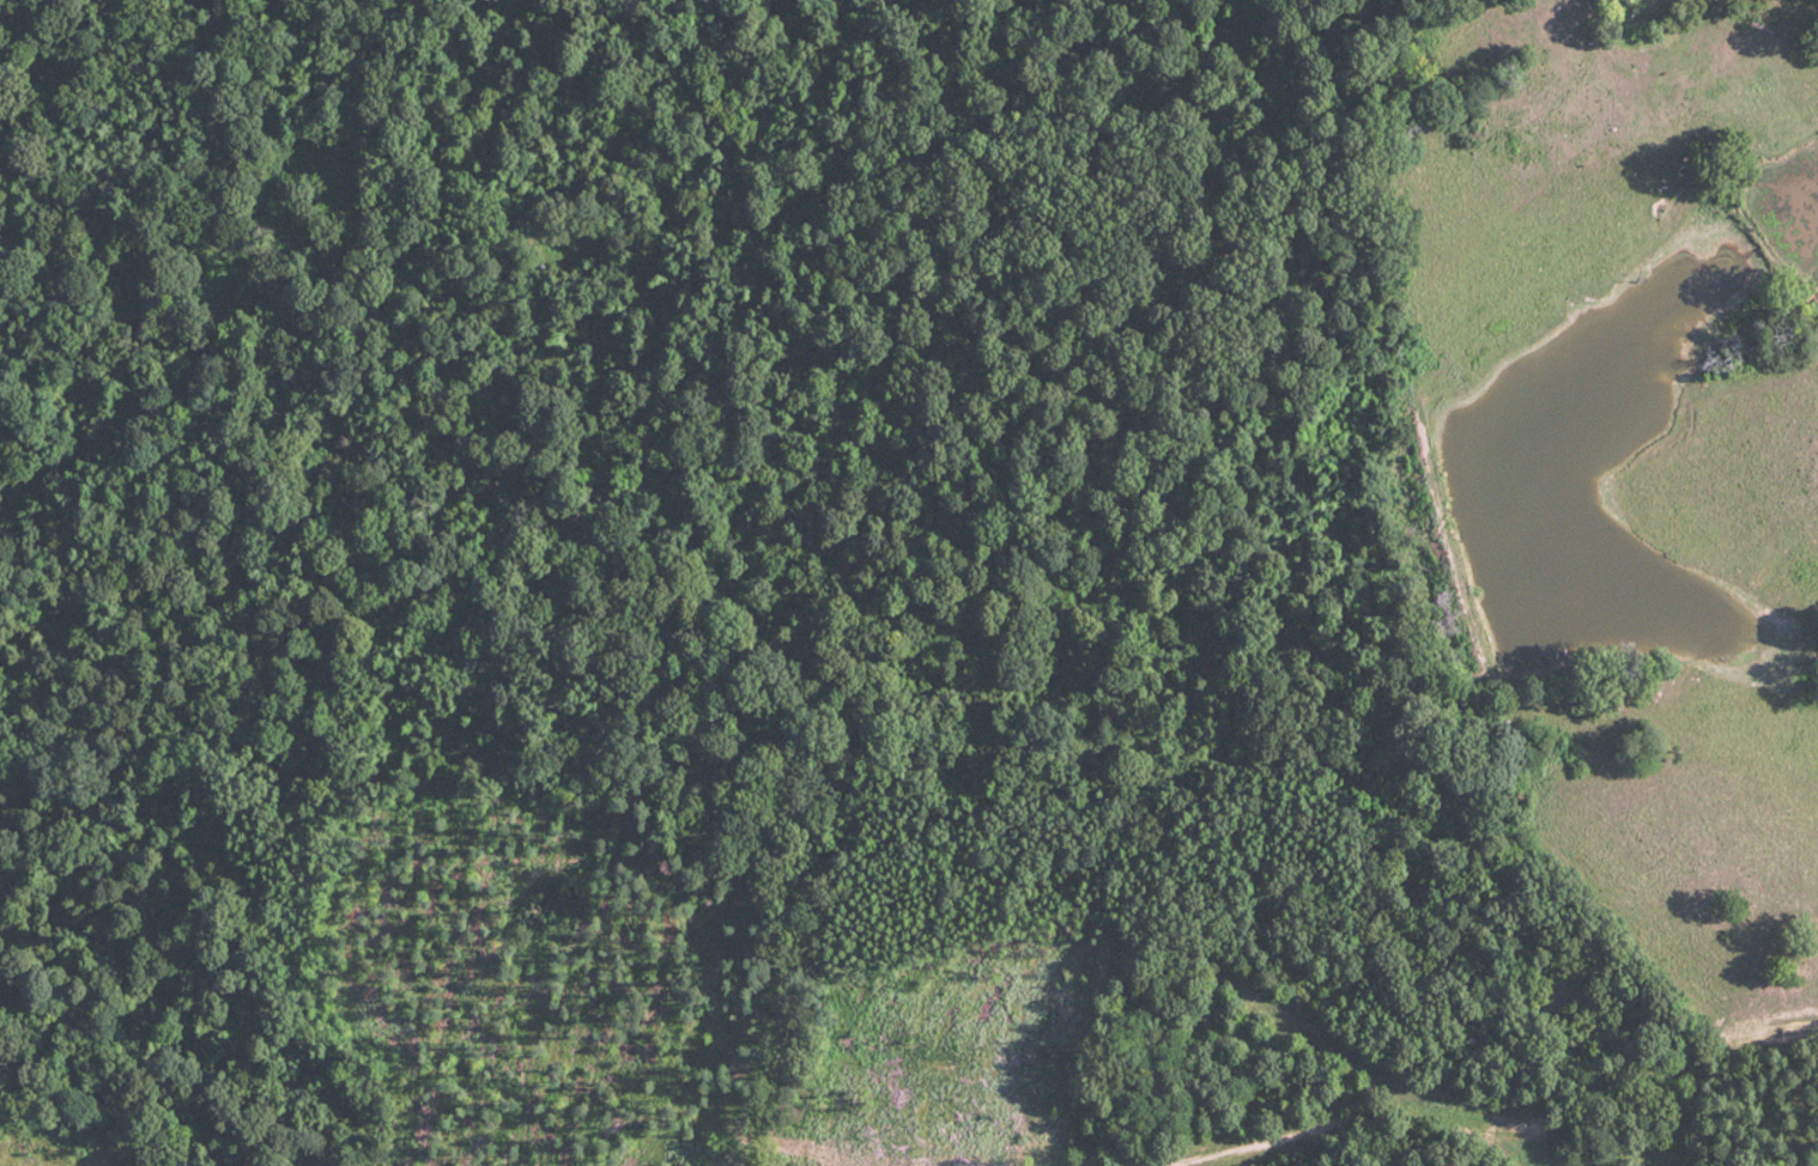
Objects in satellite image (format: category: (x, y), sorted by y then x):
road: (1681, 535)

